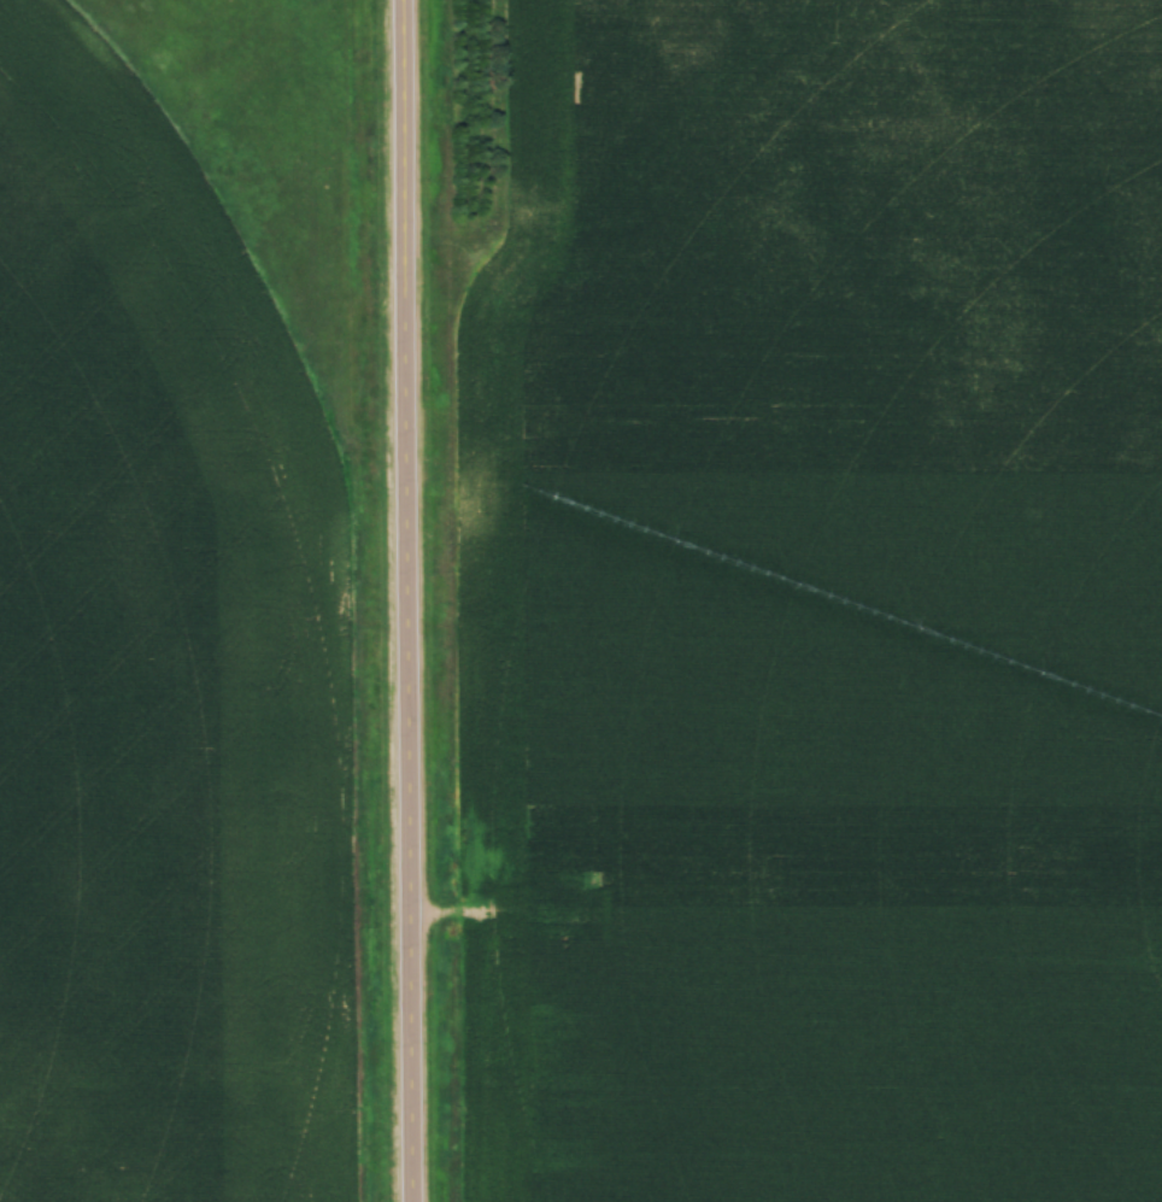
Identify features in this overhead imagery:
road: (407, 600)

